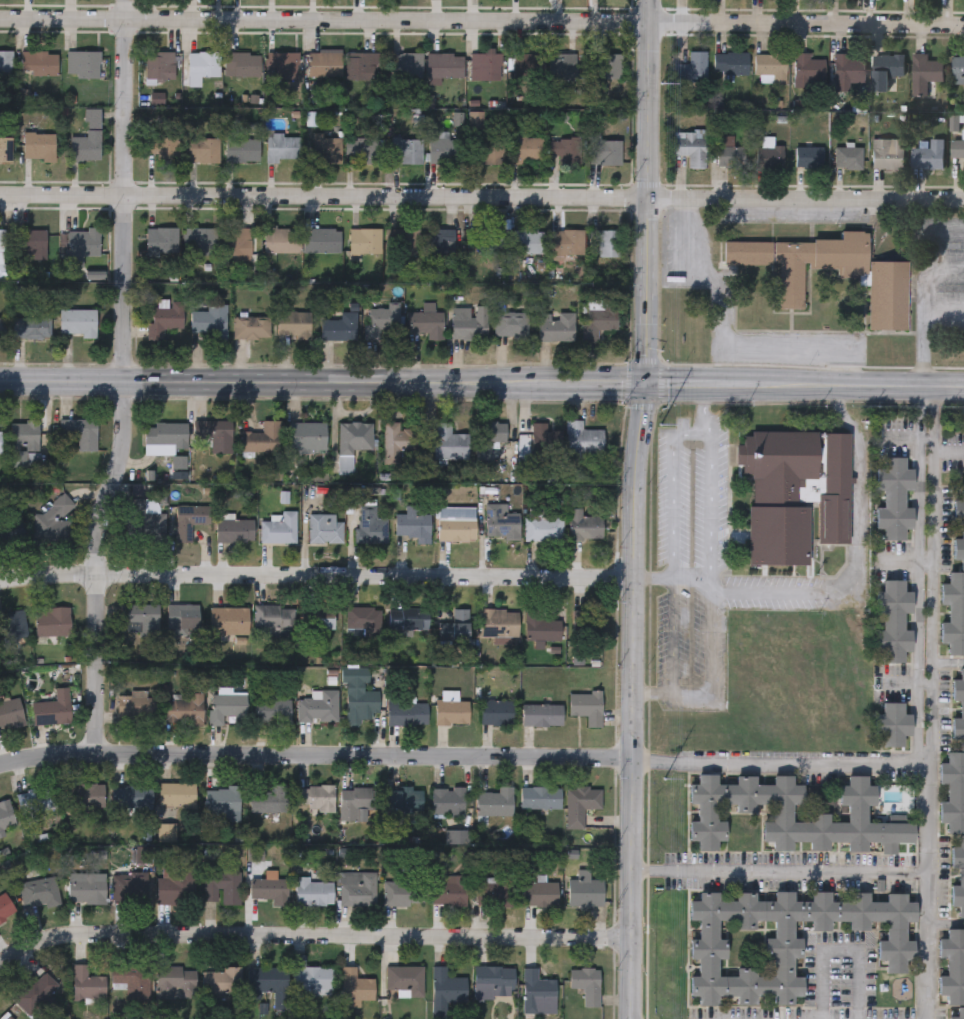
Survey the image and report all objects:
road: (481, 20)
building: (729, 62)
building: (5, 64)
building: (42, 64)
building: (82, 64)
building: (202, 64)
building: (241, 65)
building: (279, 66)
building: (324, 66)
building: (444, 66)
building: (770, 66)
building: (357, 67)
building: (405, 67)
building: (484, 67)
building: (605, 67)
building: (691, 67)
building: (159, 68)
building: (563, 68)
building: (847, 68)
building: (528, 69)
building: (957, 69)
building: (807, 70)
building: (887, 72)
building: (924, 72)
power tower: (660, 78)
building: (87, 139)
building: (689, 145)
building: (957, 146)
building: (38, 147)
building: (282, 148)
building: (526, 148)
building: (563, 148)
building: (5, 149)
building: (361, 149)
building: (161, 150)
building: (202, 150)
building: (241, 150)
building: (326, 150)
building: (445, 150)
building: (404, 151)
building: (488, 152)
building: (604, 152)
building: (727, 152)
building: (886, 153)
building: (807, 155)
building: (927, 155)
building: (769, 156)
building: (847, 157)
road: (481, 197)
building: (161, 241)
building: (323, 241)
building: (484, 241)
building: (199, 242)
building: (279, 242)
building: (527, 242)
building: (606, 242)
building: (410, 243)
building: (440, 243)
building: (30, 244)
building: (365, 244)
building: (237, 245)
building: (81, 246)
building: (566, 246)
road: (927, 249)
building: (2, 256)
road: (945, 266)
building: (887, 293)
building: (599, 319)
building: (165, 320)
building: (210, 322)
building: (469, 323)
building: (77, 324)
building: (293, 324)
building: (380, 324)
building: (426, 325)
building: (510, 325)
building: (556, 327)
building: (1, 328)
building: (251, 328)
building: (339, 328)
building: (31, 329)
road: (925, 330)
road: (727, 338)
road: (352, 383)
road: (126, 385)
traffic signals: (645, 385)
road: (834, 386)
road: (704, 405)
power tower: (659, 421)
building: (79, 430)
building: (215, 432)
building: (307, 435)
building: (164, 436)
building: (262, 436)
building: (355, 436)
building: (489, 436)
building: (546, 437)
building: (582, 437)
building: (0, 440)
building: (398, 440)
building: (450, 441)
building: (24, 442)
road: (947, 454)
road: (675, 491)
building: (794, 491)
building: (893, 499)
road: (711, 505)
road: (632, 509)
building: (147, 516)
building: (189, 519)
building: (50, 520)
building: (501, 520)
building: (414, 522)
building: (456, 522)
building: (584, 523)
building: (371, 524)
building: (279, 527)
building: (325, 527)
building: (544, 527)
building: (235, 529)
building: (961, 531)
building: (6, 534)
parking lot: (691, 565)
road: (315, 576)
road: (841, 585)
building: (953, 612)
building: (182, 615)
building: (273, 615)
building: (408, 615)
building: (318, 616)
building: (139, 617)
building: (228, 618)
building: (363, 618)
building: (52, 620)
building: (498, 621)
building: (892, 621)
building: (586, 622)
building: (13, 623)
building: (455, 625)
building: (542, 627)
road: (654, 691)
road: (685, 692)
building: (360, 702)
road: (927, 703)
building: (226, 705)
building: (319, 705)
building: (586, 705)
building: (134, 706)
building: (958, 706)
building: (52, 707)
building: (182, 708)
building: (272, 708)
building: (452, 710)
building: (497, 710)
building: (10, 711)
building: (407, 712)
building: (541, 713)
building: (891, 721)
road: (316, 764)
road: (781, 765)
power tower: (664, 787)
building: (952, 790)
building: (177, 793)
building: (84, 795)
building: (131, 795)
building: (315, 795)
building: (540, 795)
building: (403, 798)
building: (36, 799)
building: (268, 799)
building: (357, 799)
building: (222, 800)
building: (447, 800)
building: (494, 800)
building: (580, 802)
building: (5, 815)
building: (856, 815)
building: (142, 853)
road: (779, 868)
building: (957, 875)
building: (176, 883)
building: (86, 886)
building: (129, 886)
building: (221, 886)
building: (356, 887)
building: (269, 888)
building: (448, 888)
building: (496, 890)
building: (39, 891)
building: (312, 891)
building: (585, 891)
building: (403, 892)
building: (540, 892)
building: (7, 911)
road: (312, 935)
building: (787, 936)
road: (840, 950)
building: (952, 962)
building: (312, 976)
building: (221, 978)
building: (266, 978)
building: (405, 978)
building: (491, 978)
building: (131, 979)
building: (176, 979)
building: (586, 982)
building: (86, 983)
building: (355, 985)
building: (445, 989)
building: (34, 990)
building: (537, 991)
building: (958, 1013)

